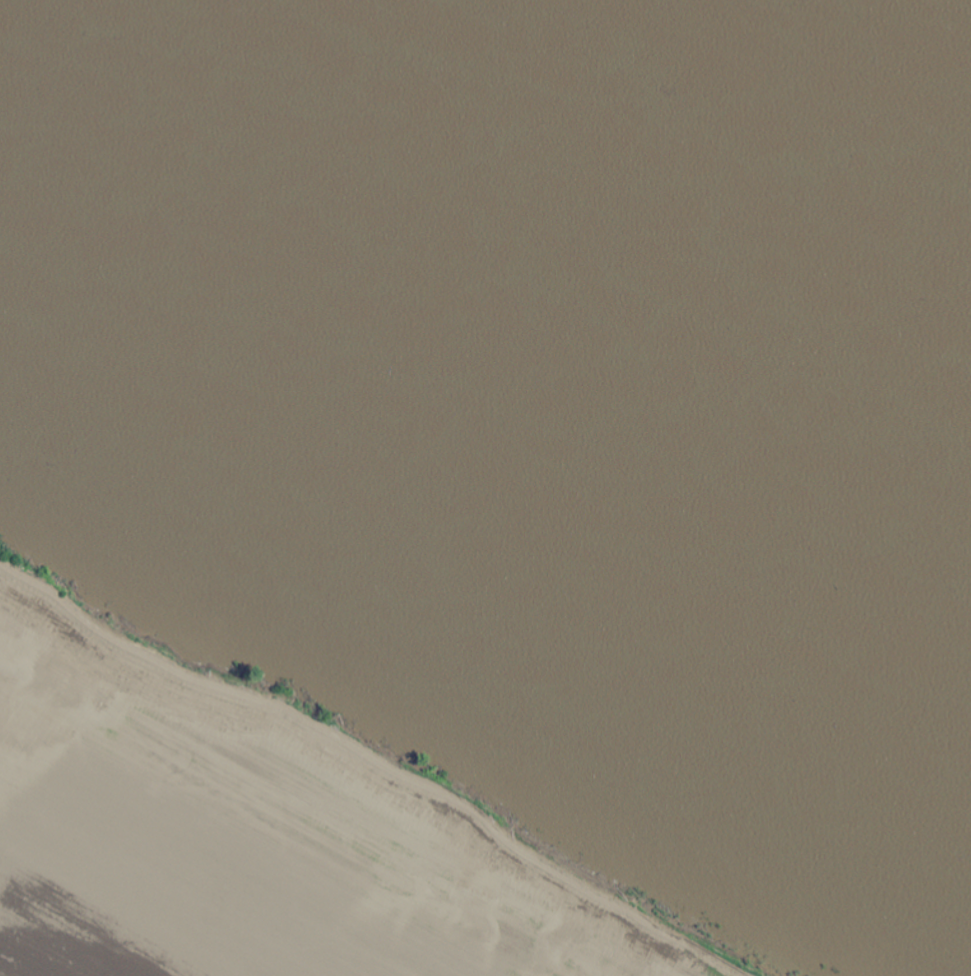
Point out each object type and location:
river: (813, 82)

